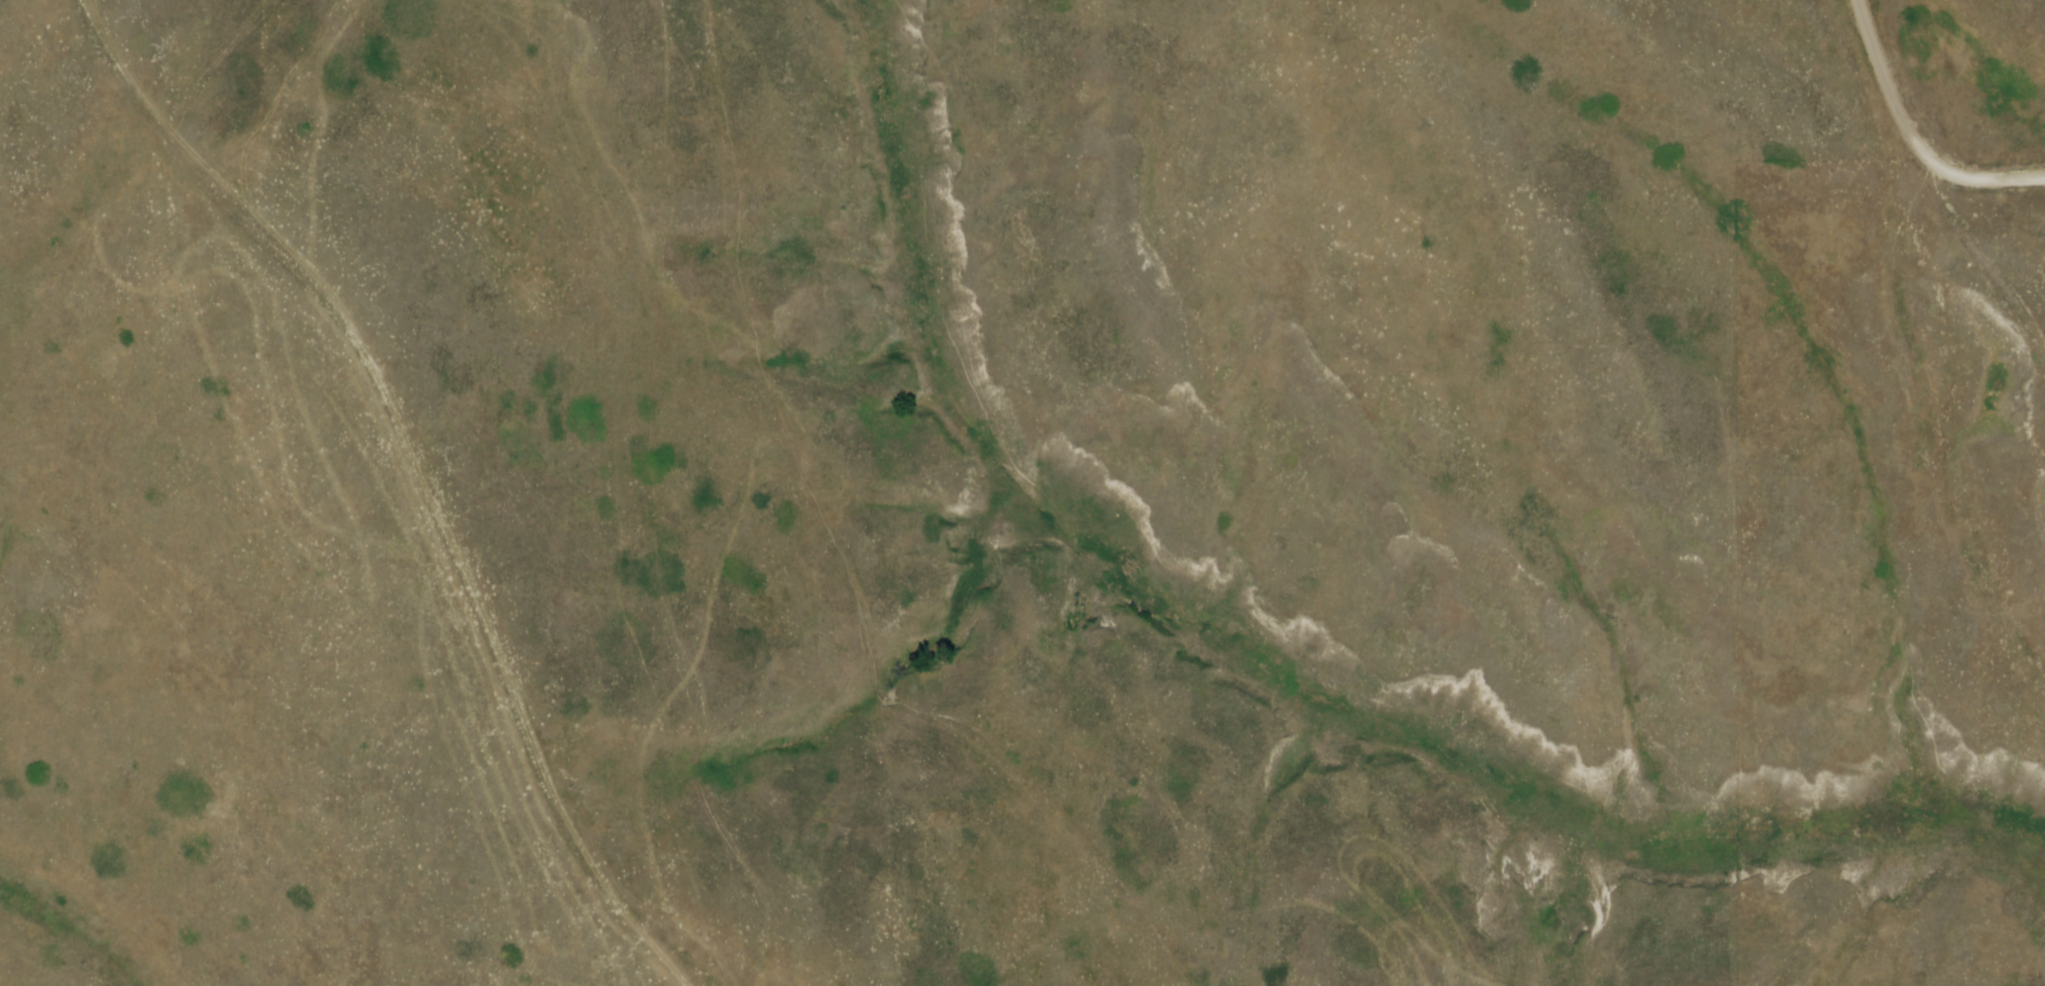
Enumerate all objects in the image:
road: (1896, 151)
road: (2012, 267)

